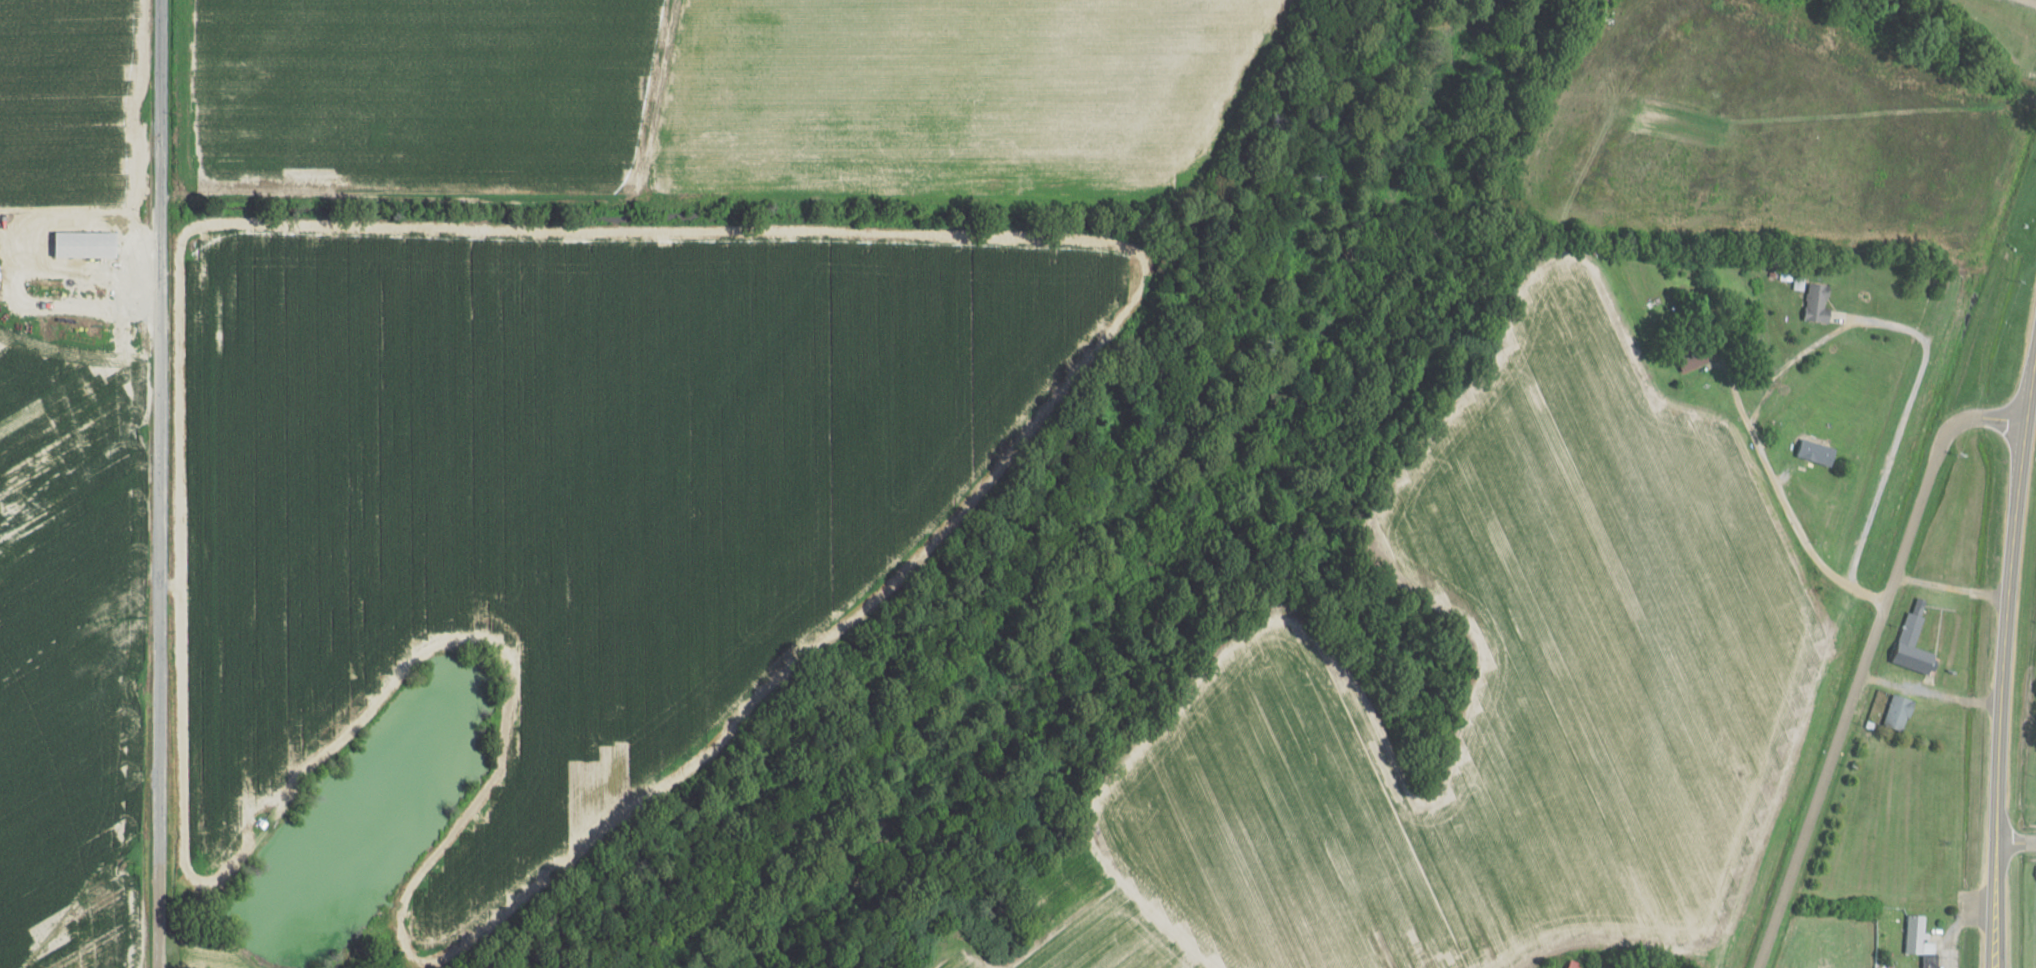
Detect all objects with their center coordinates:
road: (670, 102)
road: (159, 114)
road: (79, 214)
building: (87, 242)
building: (1819, 303)
building: (1699, 355)
road: (2029, 385)
building: (1818, 452)
road: (1791, 516)
road: (1950, 588)
road: (155, 599)
building: (1915, 640)
road: (1865, 660)
road: (1931, 691)
road: (2002, 695)
building: (1899, 712)
road: (2014, 843)
building: (1916, 933)
road: (111, 935)
road: (350, 955)
building: (1577, 964)

